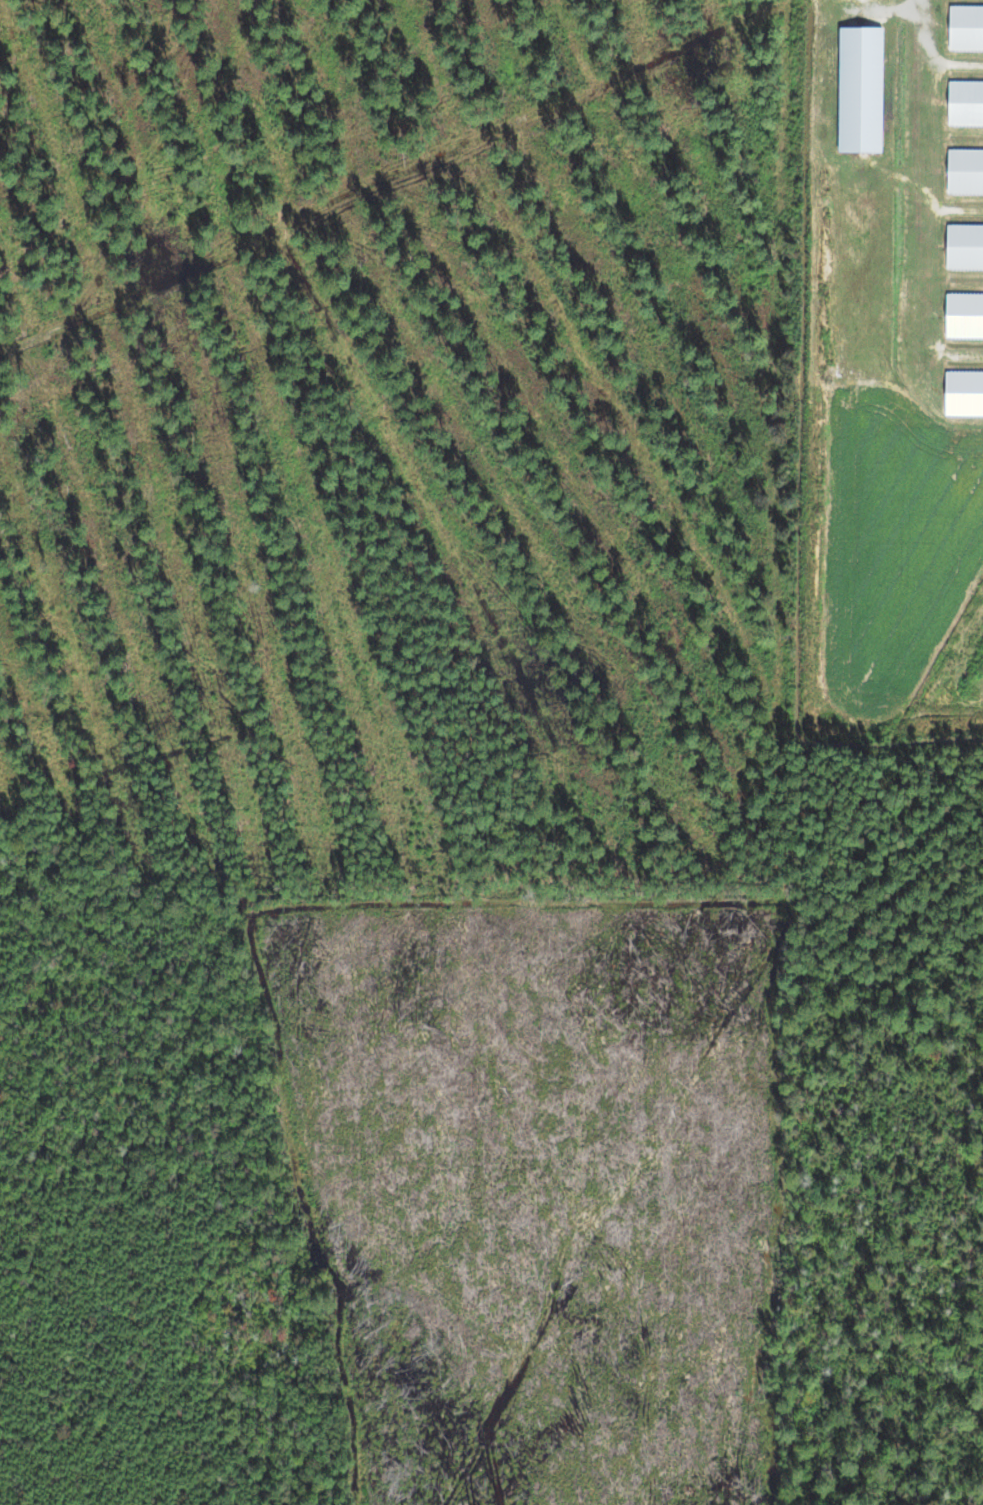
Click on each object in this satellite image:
building: (967, 29)
road: (953, 61)
building: (860, 91)
building: (966, 104)
road: (921, 105)
building: (965, 172)
road: (389, 173)
road: (952, 211)
building: (965, 248)
road: (958, 346)
road: (774, 350)

